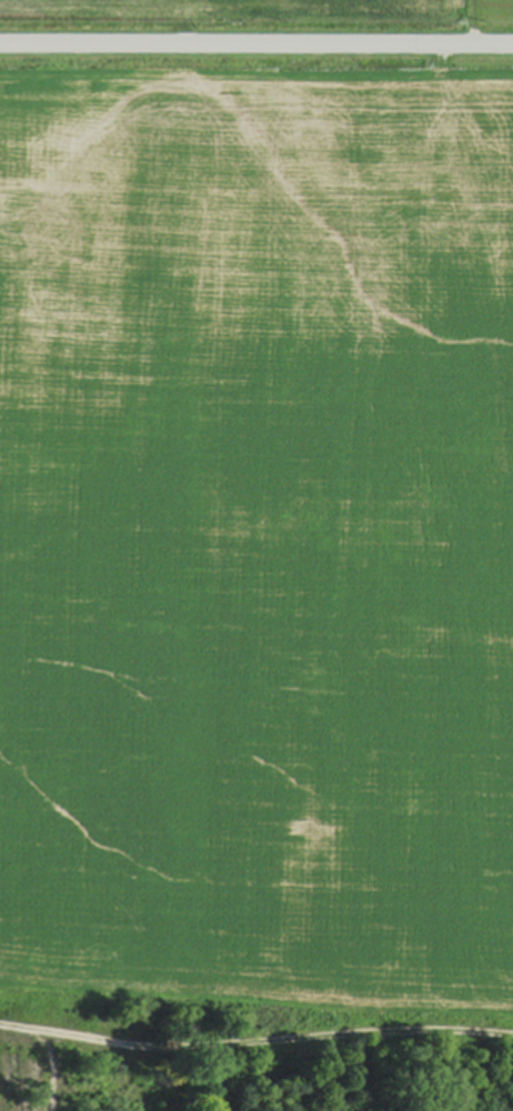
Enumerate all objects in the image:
road: (256, 44)

